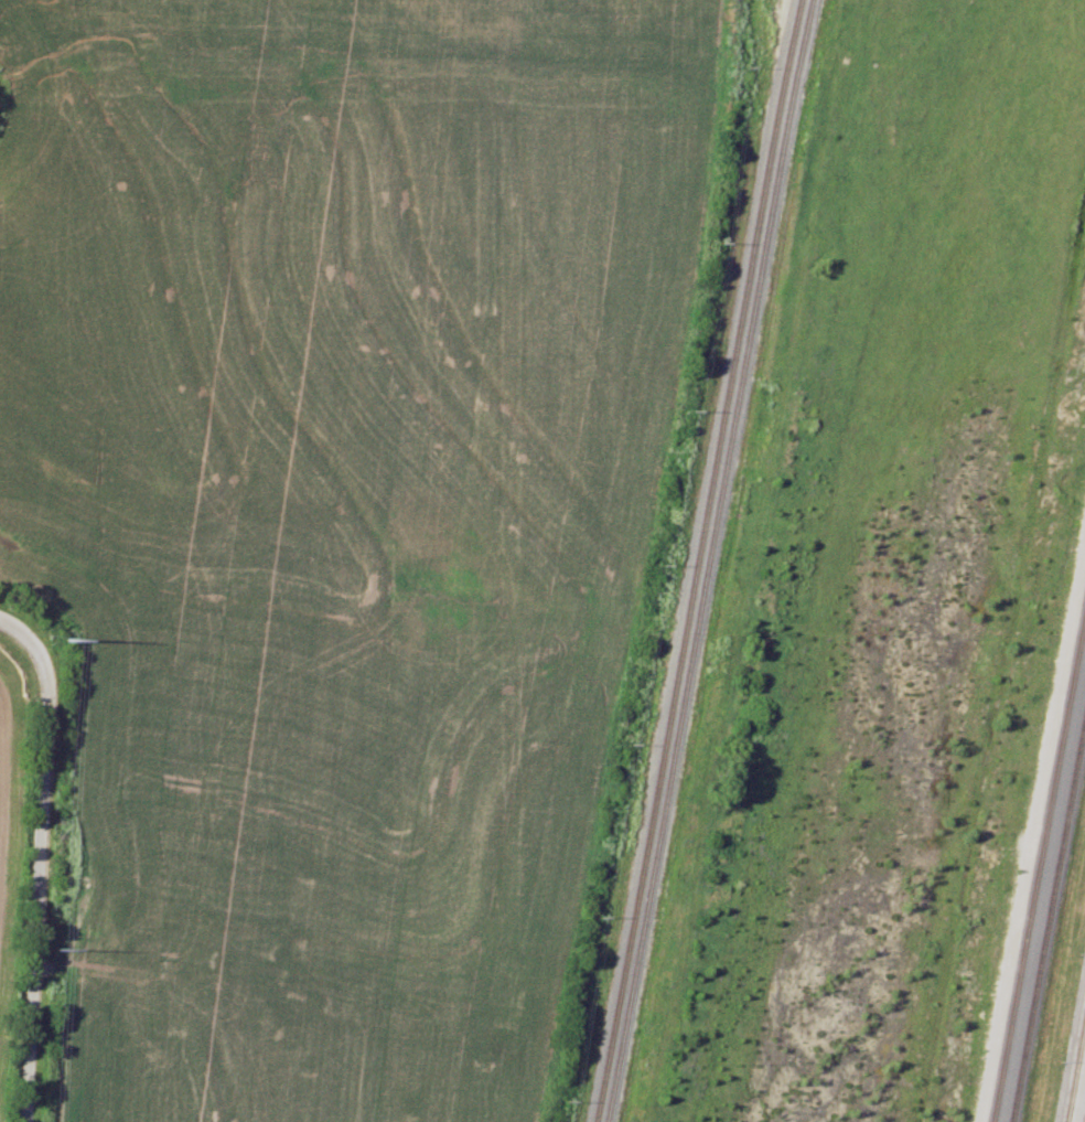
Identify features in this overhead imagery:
crop: (346, 551)
railway: (698, 560)
railway: (708, 560)
crop: (9, 809)
road: (40, 857)
railway: (1049, 923)
railway: (1076, 1072)

